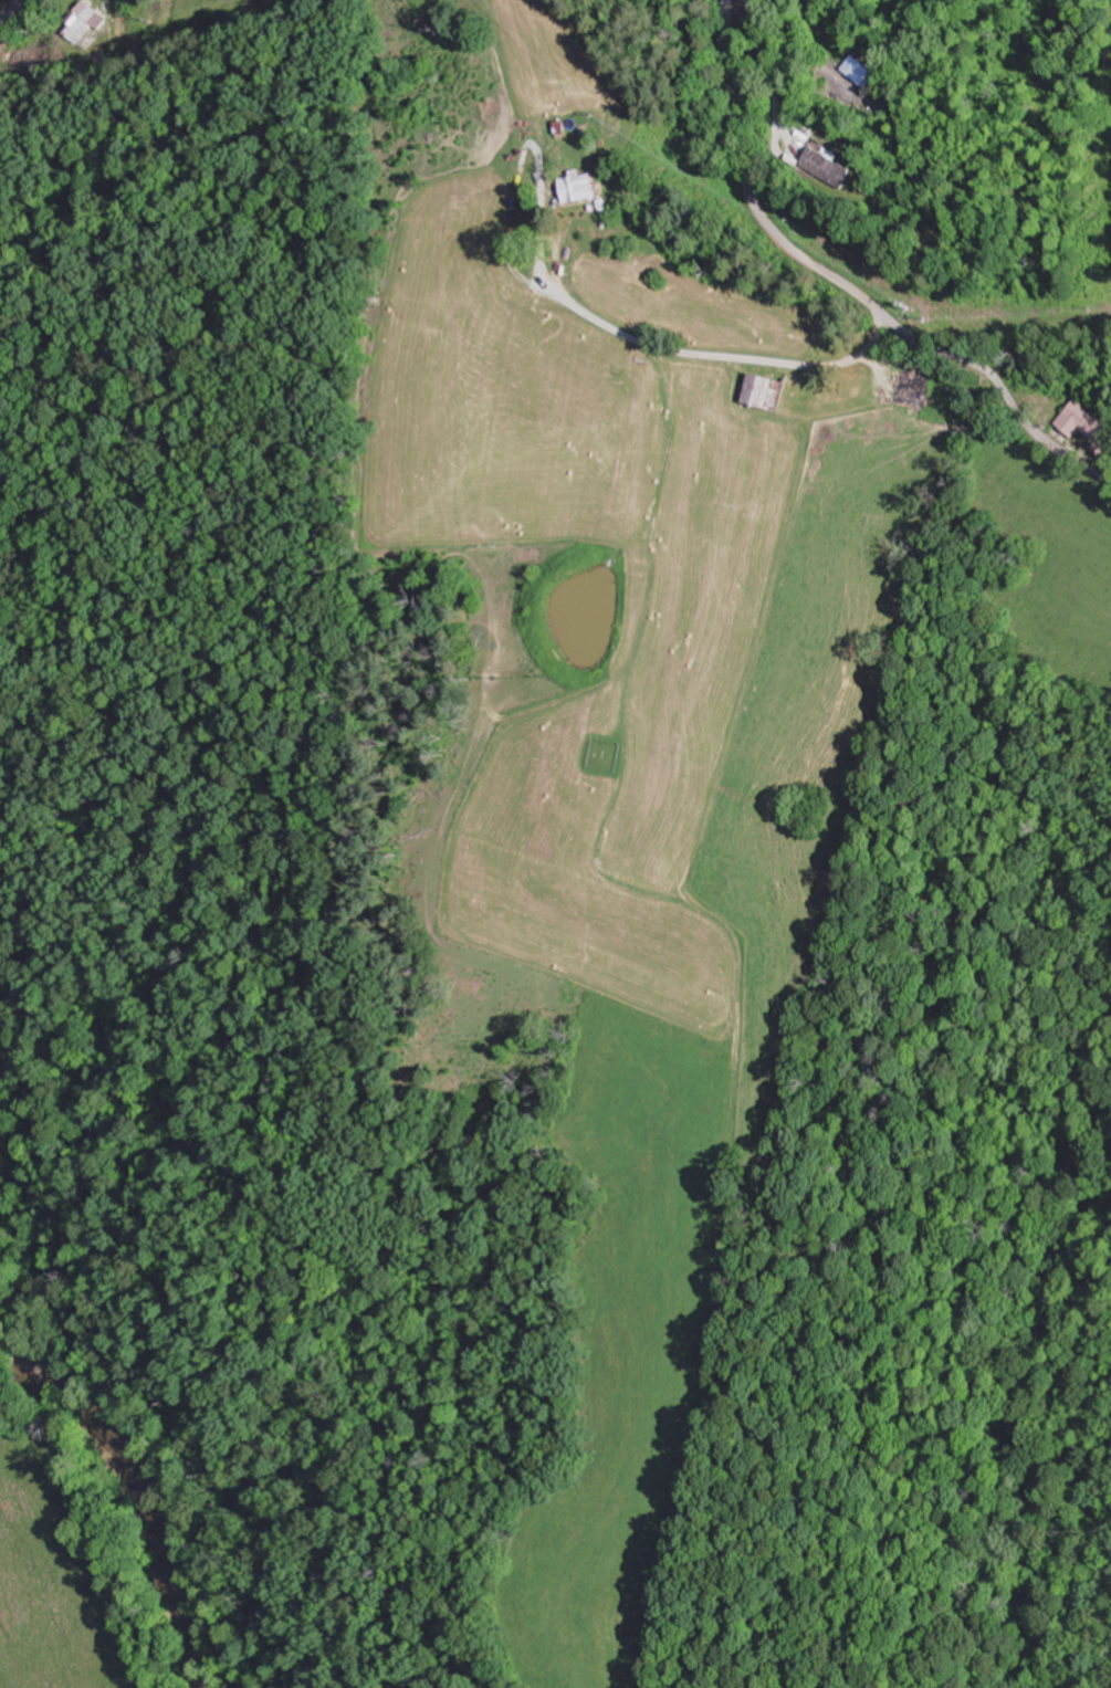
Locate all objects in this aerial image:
building: (88, 23)
building: (827, 168)
building: (579, 187)
road: (847, 286)
road: (767, 287)
road: (782, 345)
building: (769, 391)
building: (915, 391)
river: (145, 1491)

